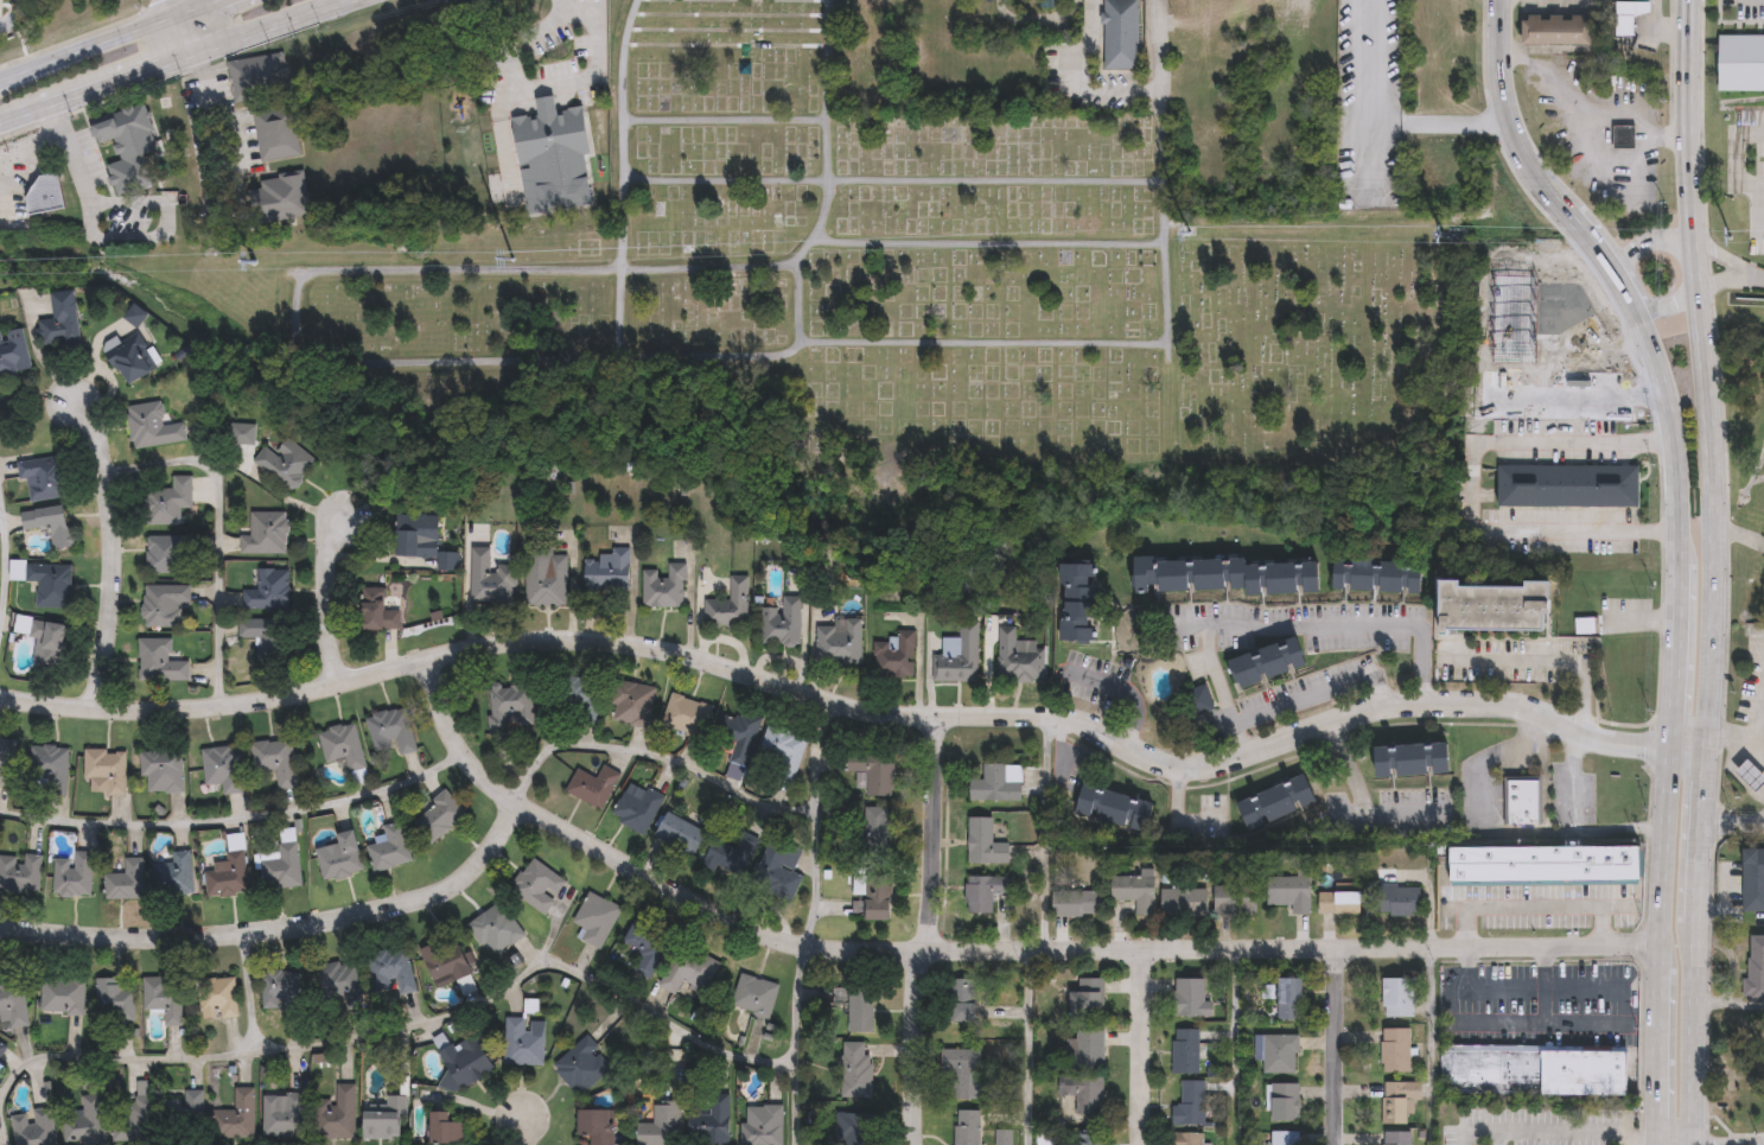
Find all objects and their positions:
building: (1271, 0)
building: (1058, 4)
road: (1504, 4)
road: (178, 5)
road: (196, 5)
road: (568, 6)
building: (877, 14)
road: (1027, 14)
building: (1626, 14)
road: (11, 15)
road: (265, 24)
road: (1658, 25)
building: (1552, 28)
road: (187, 30)
building: (1122, 34)
road: (90, 45)
building: (1741, 64)
road: (117, 78)
building: (260, 78)
road: (537, 87)
road: (1159, 106)
road: (1593, 106)
road: (217, 108)
road: (20, 114)
road: (724, 119)
building: (278, 134)
building: (1620, 134)
road: (826, 135)
road: (31, 142)
building: (132, 148)
road: (1739, 155)
road: (1598, 161)
road: (1530, 165)
road: (622, 176)
road: (892, 180)
building: (56, 191)
road: (1371, 193)
building: (284, 199)
road: (142, 201)
road: (1757, 206)
road: (1163, 228)
power tower: (1189, 233)
power tower: (1441, 236)
power tower: (1732, 237)
road: (1647, 240)
power tower: (512, 257)
power tower: (254, 266)
road: (1747, 268)
road: (1758, 273)
park: (918, 276)
road: (1165, 301)
road: (1668, 305)
building: (63, 323)
building: (13, 356)
road: (305, 356)
building: (132, 358)
building: (152, 426)
building: (287, 465)
building: (45, 478)
building: (1564, 482)
road: (1472, 486)
building: (170, 504)
building: (51, 524)
road: (216, 529)
road: (1739, 532)
building: (267, 535)
road: (1, 540)
building: (424, 541)
road: (112, 549)
building: (167, 556)
road: (1714, 571)
building: (610, 572)
building: (547, 577)
building: (1228, 578)
building: (1380, 578)
building: (493, 581)
building: (52, 585)
building: (666, 589)
building: (269, 592)
road: (329, 596)
building: (1080, 604)
building: (165, 605)
building: (1492, 605)
building: (731, 608)
building: (378, 612)
building: (783, 624)
road: (1287, 626)
building: (269, 638)
building: (51, 642)
building: (841, 644)
building: (897, 656)
building: (960, 657)
building: (1019, 659)
building: (161, 662)
building: (1269, 664)
road: (1535, 668)
road: (1127, 692)
road: (1319, 692)
building: (581, 699)
building: (1201, 702)
building: (633, 705)
building: (512, 708)
road: (859, 708)
building: (688, 717)
road: (1671, 720)
building: (399, 725)
road: (1736, 732)
building: (741, 736)
building: (350, 740)
building: (281, 752)
building: (783, 752)
building: (56, 759)
road: (651, 759)
building: (8, 762)
building: (231, 762)
building: (1414, 762)
building: (110, 764)
building: (171, 765)
building: (1747, 772)
building: (877, 774)
building: (600, 778)
building: (999, 785)
building: (643, 801)
building: (1523, 803)
building: (1278, 804)
building: (447, 808)
building: (1116, 809)
road: (1355, 809)
road: (236, 819)
road: (814, 820)
road: (1733, 821)
building: (874, 831)
road: (1044, 831)
road: (929, 832)
building: (681, 837)
building: (399, 844)
building: (987, 845)
building: (350, 848)
building: (733, 858)
building: (1541, 861)
building: (295, 863)
building: (24, 867)
building: (79, 869)
building: (182, 869)
building: (235, 869)
building: (778, 874)
building: (134, 877)
building: (1753, 886)
building: (539, 888)
building: (1138, 892)
building: (986, 893)
building: (1292, 893)
building: (874, 896)
building: (1237, 902)
building: (1399, 902)
building: (1187, 903)
building: (1077, 904)
building: (1342, 905)
road: (1531, 905)
building: (598, 921)
road: (1599, 923)
road: (281, 927)
road: (1464, 927)
building: (497, 931)
road: (983, 946)
building: (649, 948)
building: (447, 962)
road: (1465, 967)
building: (395, 969)
building: (690, 971)
building: (1756, 973)
building: (340, 982)
road: (1542, 984)
road: (1533, 987)
building: (284, 992)
building: (756, 997)
building: (65, 998)
road: (484, 998)
building: (1088, 998)
building: (1191, 998)
building: (1399, 998)
building: (165, 999)
building: (219, 999)
building: (1291, 999)
building: (963, 1000)
building: (115, 1001)
building: (13, 1005)
building: (859, 1010)
road: (1233, 1020)
road: (1539, 1020)
building: (526, 1043)
road: (795, 1043)
road: (918, 1047)
road: (1025, 1047)
road: (1331, 1047)
road: (1427, 1047)
road: (1138, 1048)
building: (2, 1050)
building: (1087, 1050)
building: (1186, 1051)
building: (1396, 1051)
building: (1281, 1054)
road: (95, 1056)
building: (466, 1066)
building: (584, 1067)
building: (1534, 1069)
building: (855, 1070)
building: (963, 1071)
building: (1085, 1093)
building: (1399, 1100)
building: (1285, 1102)
building: (1191, 1105)
building: (291, 1109)
building: (244, 1111)
building: (343, 1111)
building: (186, 1114)
building: (139, 1118)
building: (387, 1121)
building: (88, 1124)
building: (661, 1124)
building: (714, 1124)
building: (598, 1126)
building: (765, 1126)
building: (966, 1127)
building: (447, 1130)
building: (852, 1130)
road: (520, 1131)
building: (37, 1132)
building: (1091, 1137)
building: (1005, 1138)
building: (1286, 1138)
building: (1400, 1138)
building: (1046, 1139)
building: (1189, 1139)
road: (1483, 1139)
road: (1587, 1141)
road: (1491, 1143)
road: (1728, 1143)
road: (1623, 1144)
road: (1675, 1144)
road: (1692, 1144)

